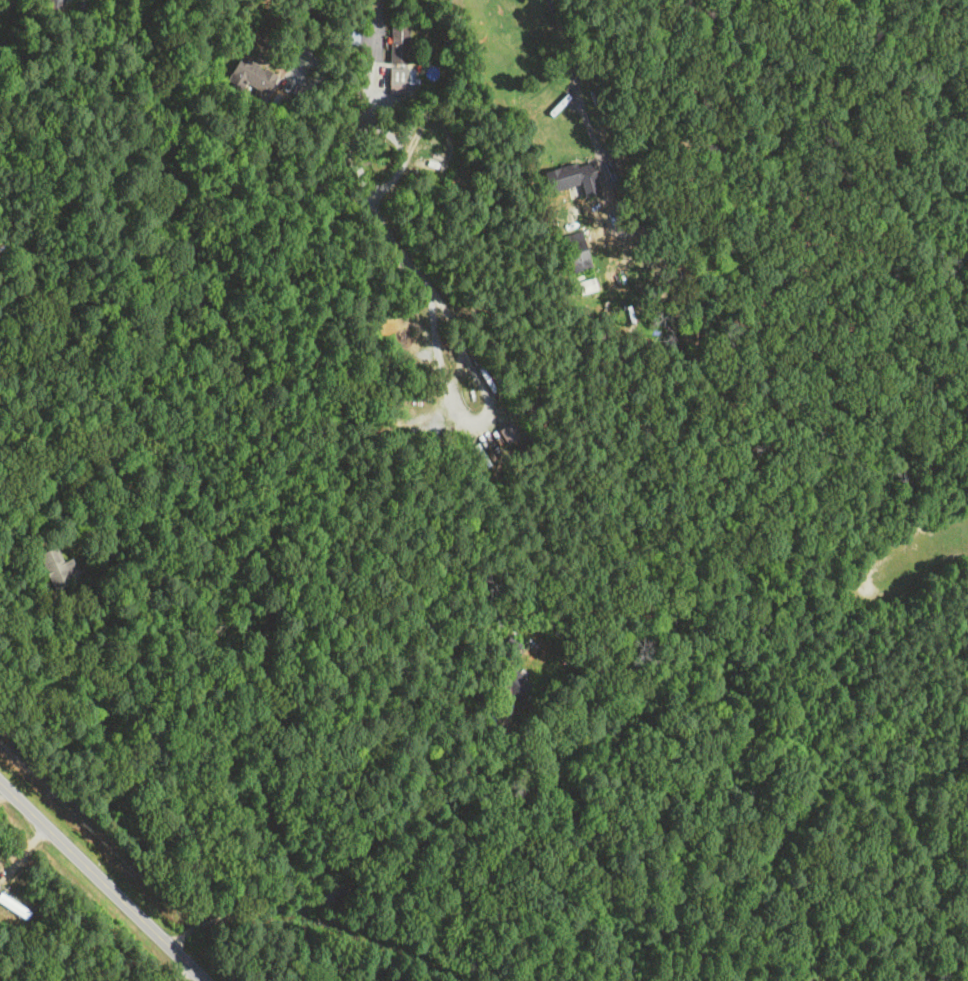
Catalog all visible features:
road: (297, 32)
building: (399, 44)
building: (403, 76)
road: (575, 76)
building: (251, 77)
road: (357, 151)
building: (573, 177)
building: (3, 248)
building: (577, 250)
road: (481, 413)
building: (57, 569)
building: (516, 686)
road: (351, 853)
road: (102, 882)
building: (14, 906)
road: (181, 975)
road: (9, 977)

